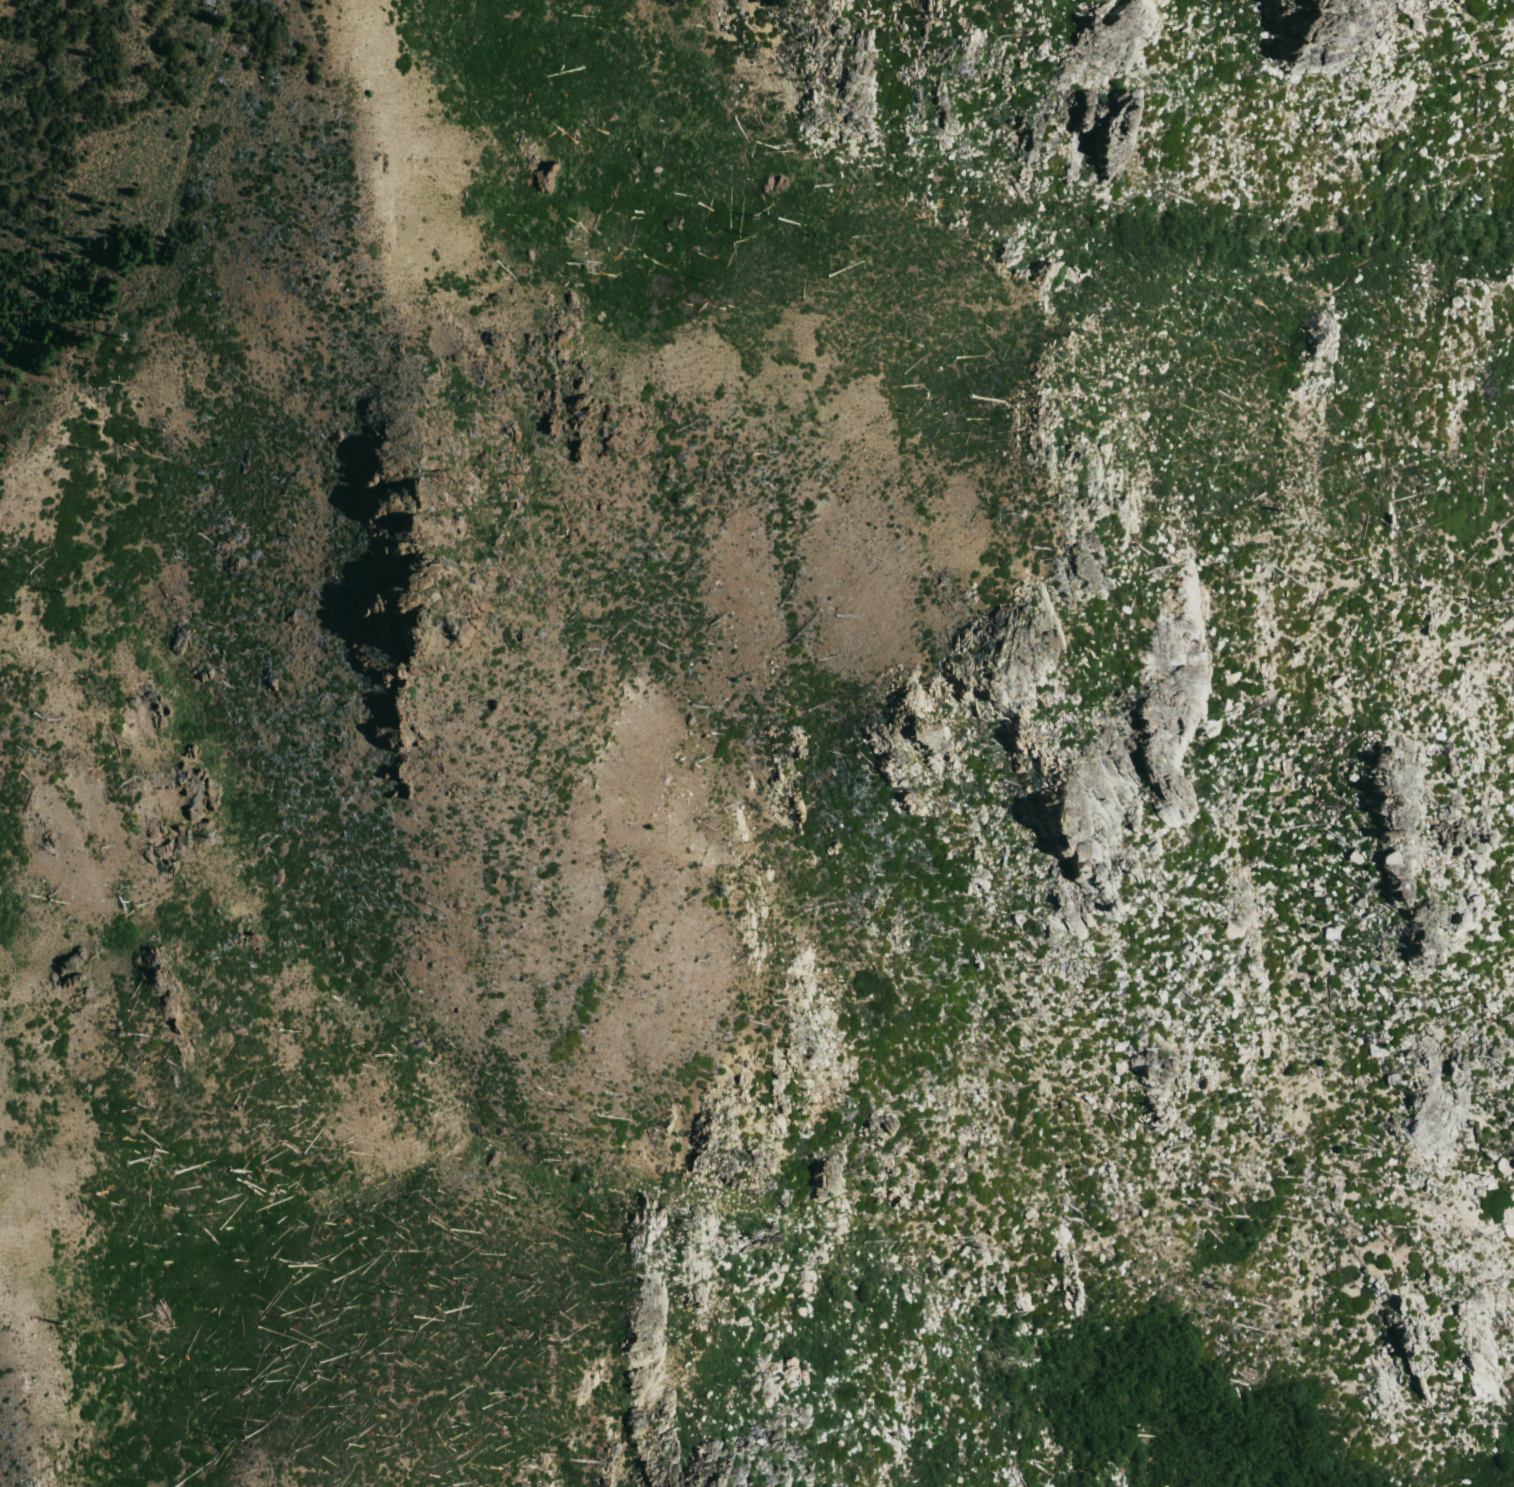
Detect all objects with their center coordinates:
road: (160, 230)

